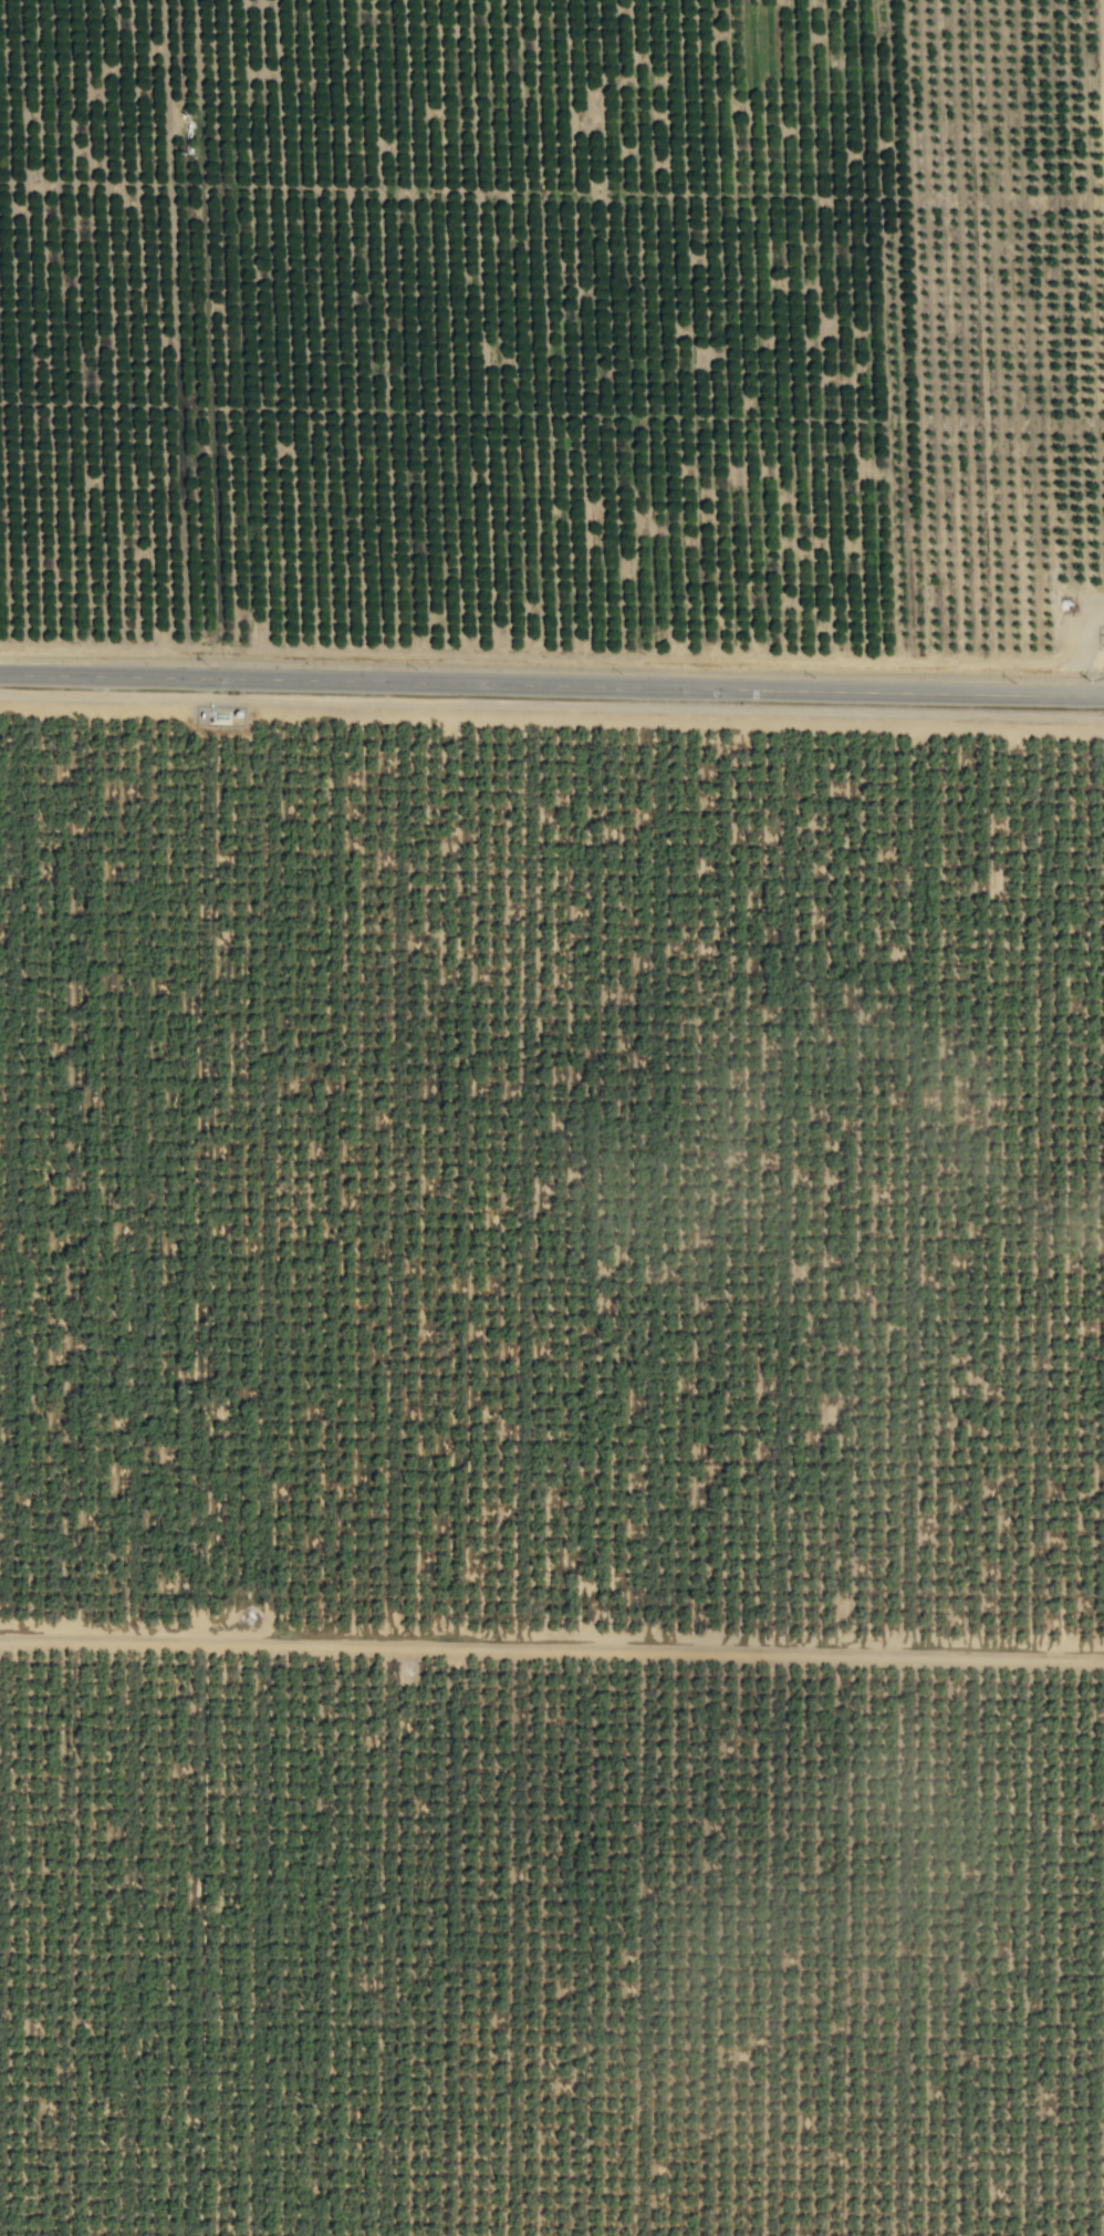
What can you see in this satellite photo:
road: (552, 683)

